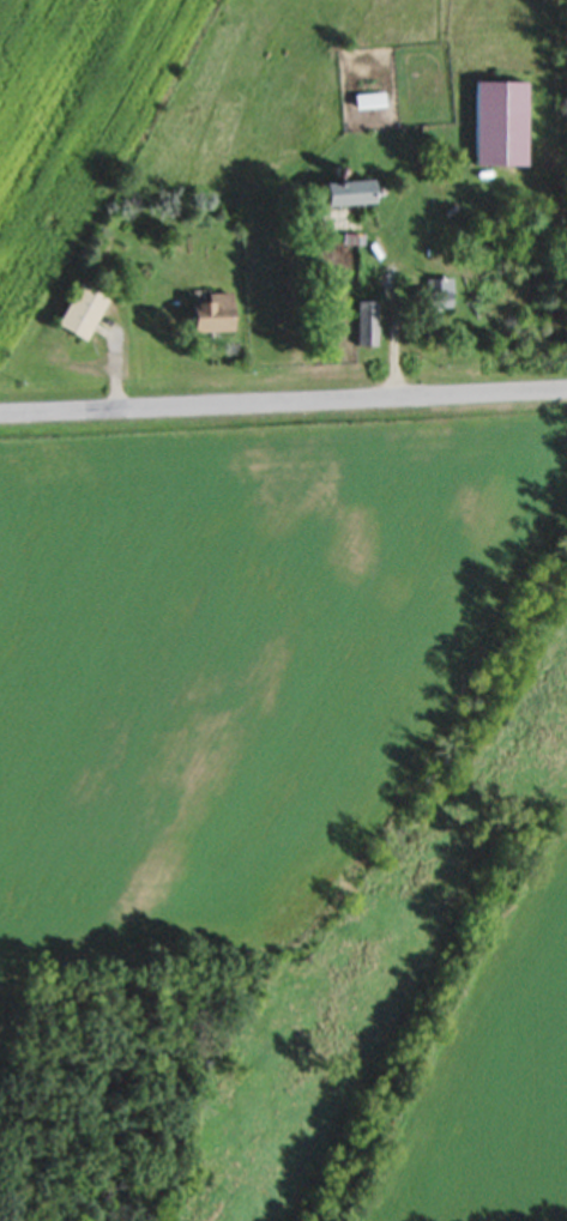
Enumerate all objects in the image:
building: (370, 99)
building: (499, 121)
building: (349, 191)
building: (436, 290)
building: (83, 306)
building: (212, 310)
building: (366, 321)
road: (397, 337)
road: (283, 403)

